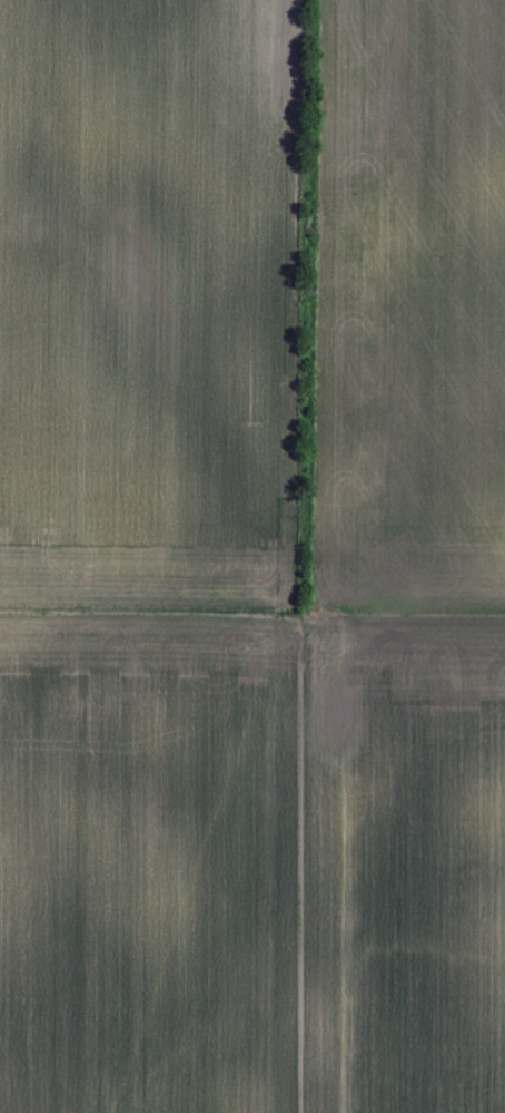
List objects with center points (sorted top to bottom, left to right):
crop: (253, 556)

